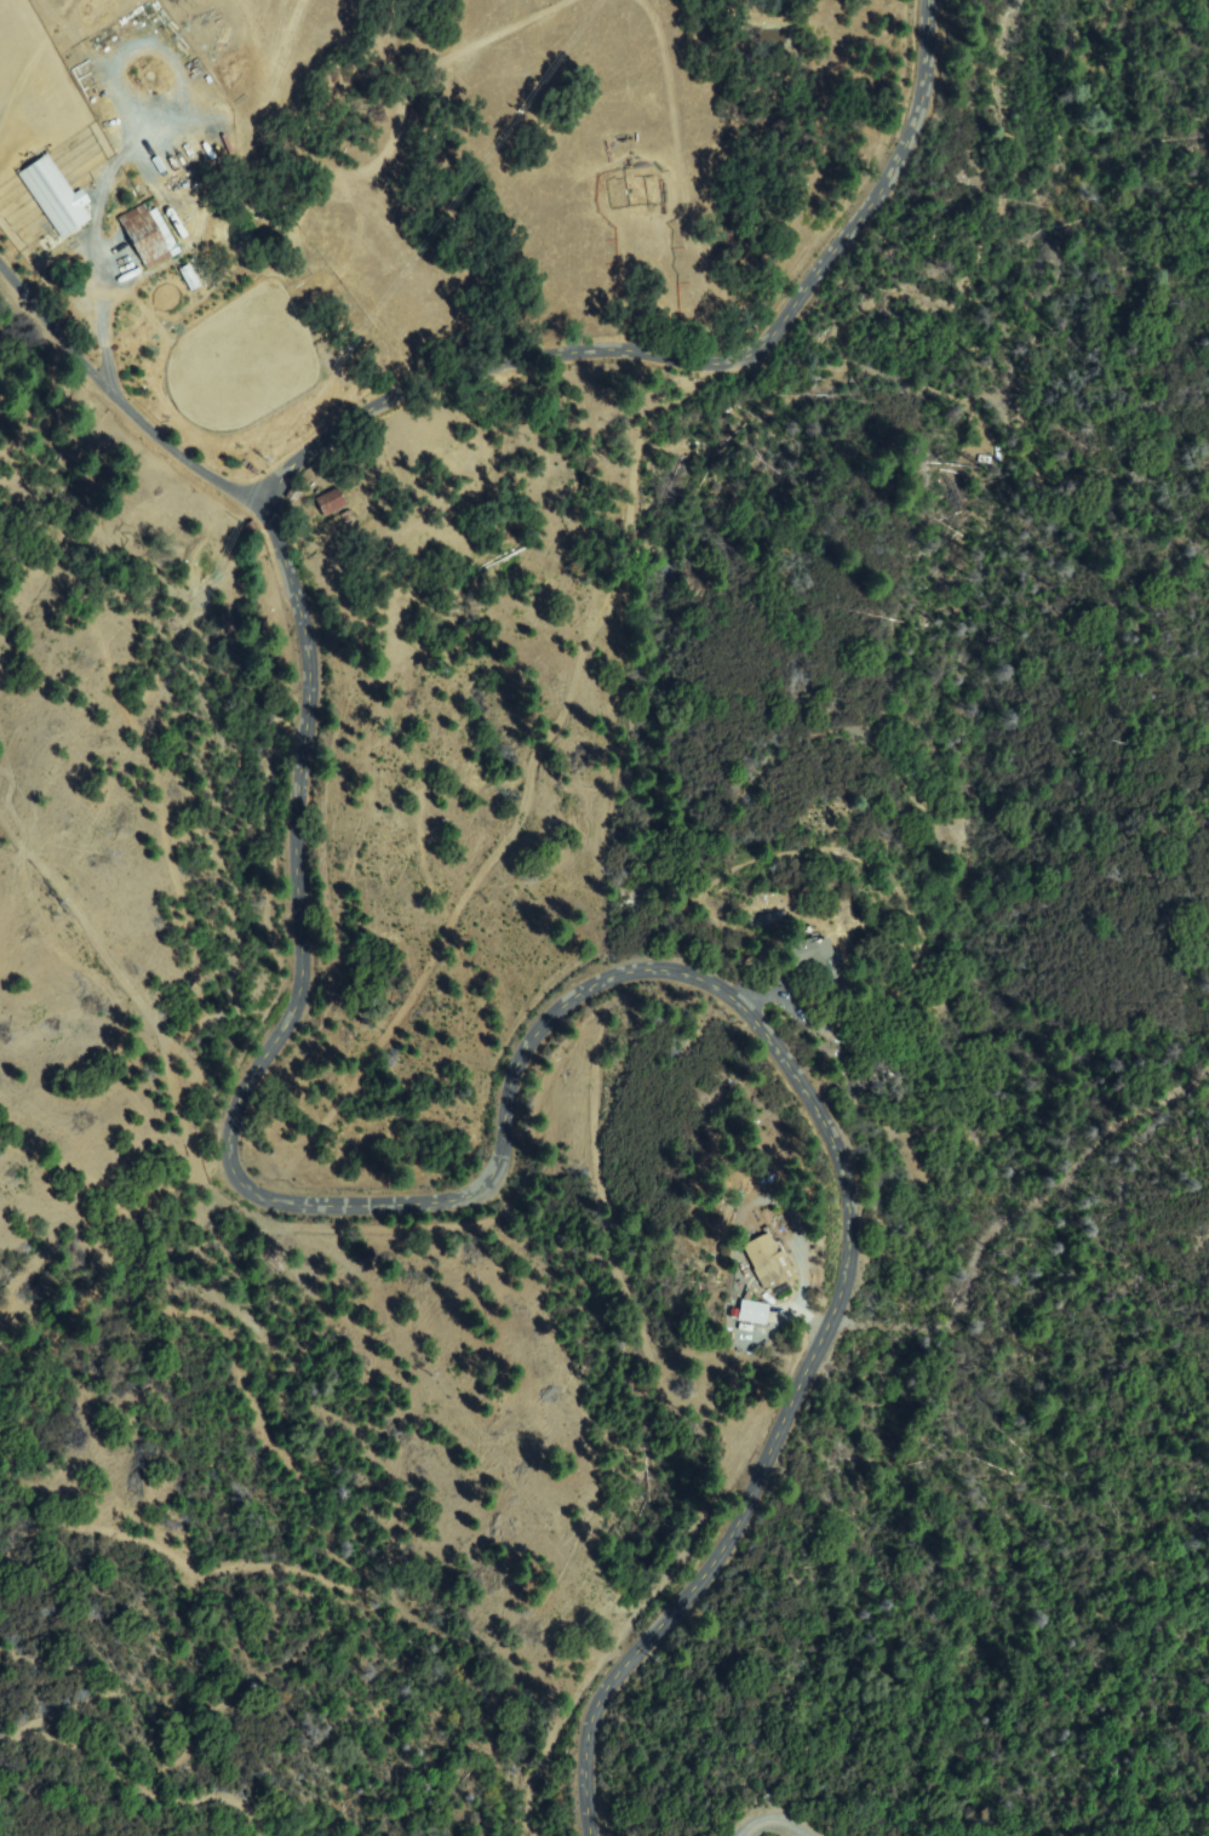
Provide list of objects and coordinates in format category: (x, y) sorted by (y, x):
road: (905, 75)
building: (145, 238)
road: (125, 394)
building: (294, 494)
building: (332, 504)
building: (349, 516)
building: (252, 533)
building: (816, 959)
road: (229, 1152)
building: (767, 1262)
building: (752, 1311)
road: (773, 1815)

